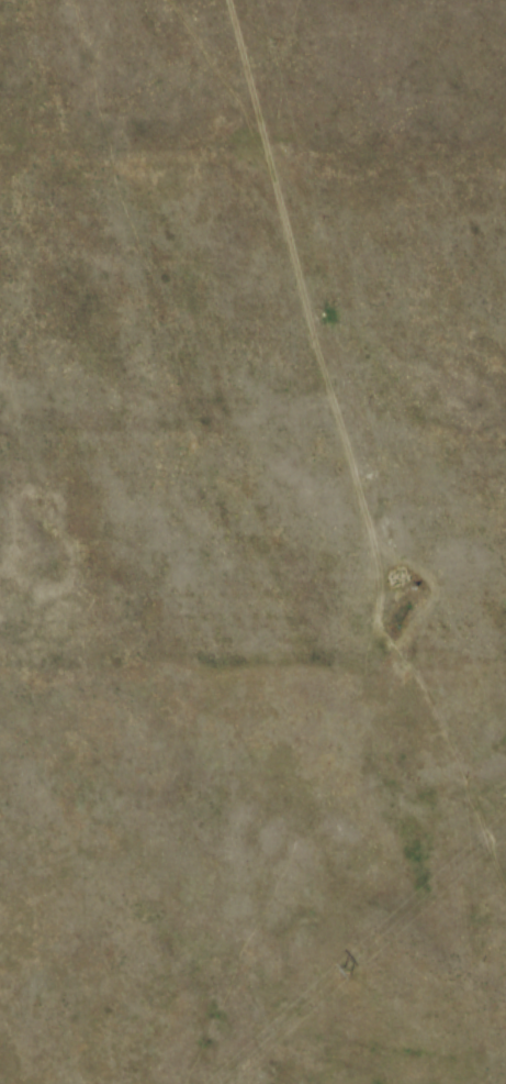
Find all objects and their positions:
power tower: (345, 971)

